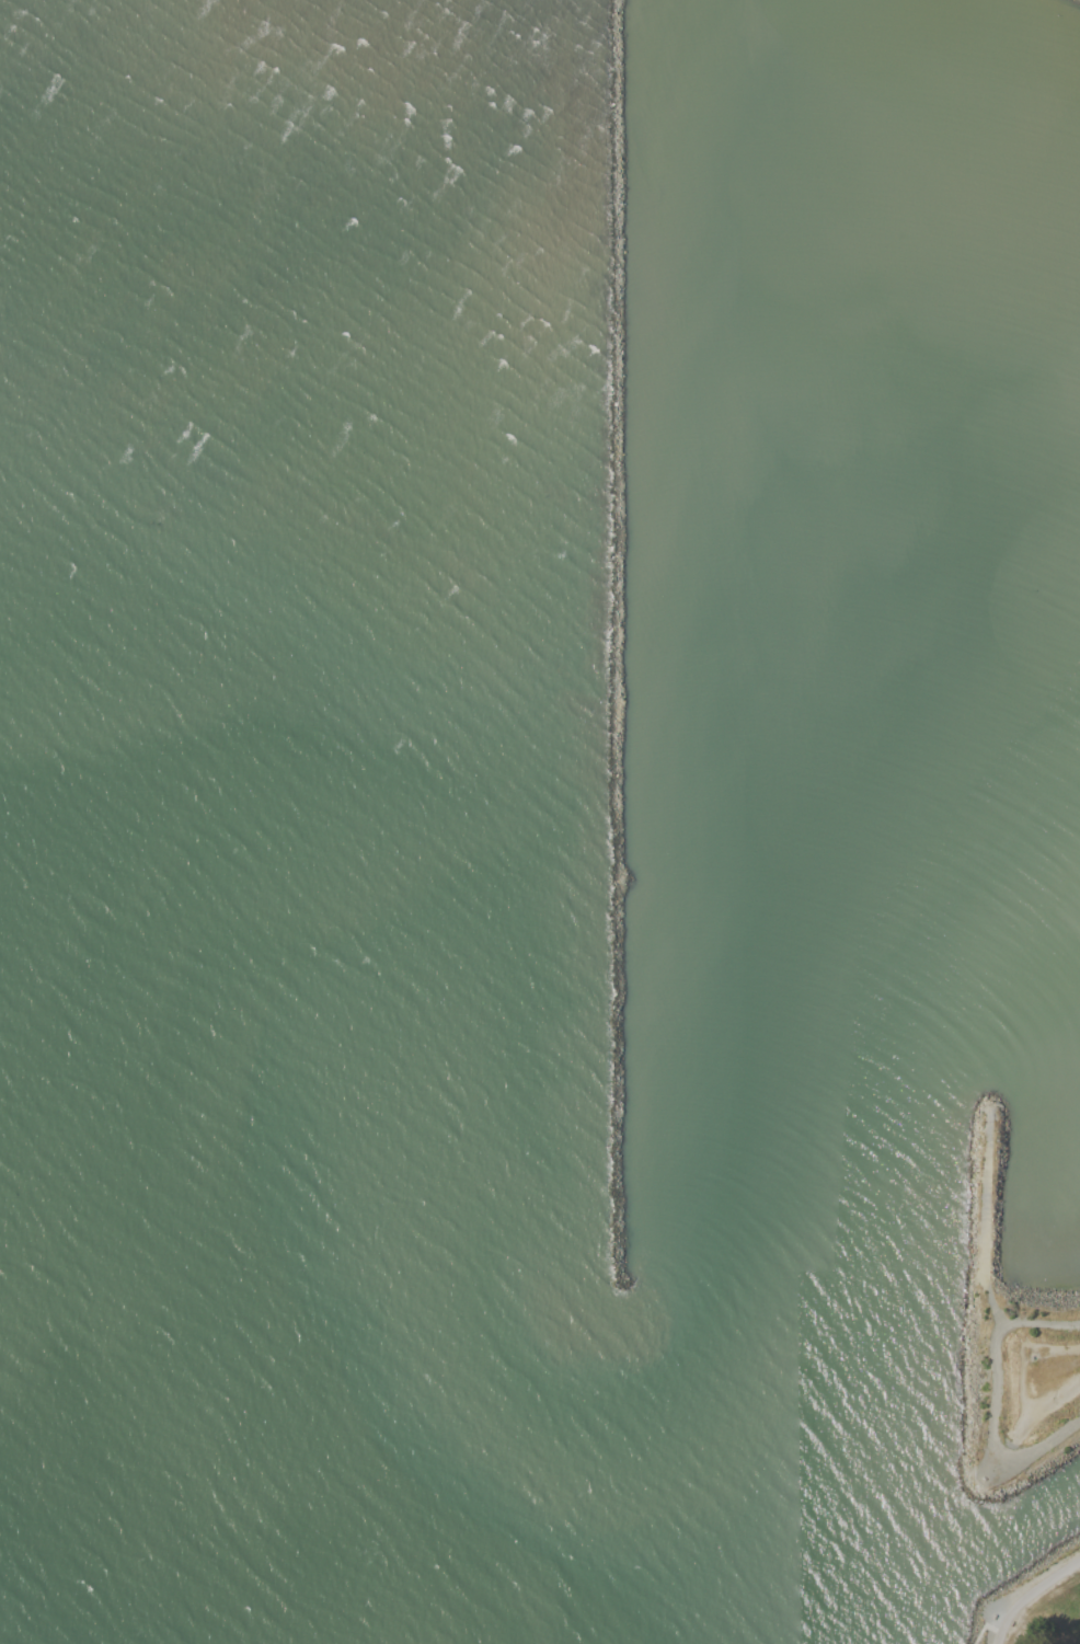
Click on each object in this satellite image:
pier: (622, 714)
park: (1013, 1348)
road: (993, 1396)
road: (1038, 1412)
road: (1037, 1601)
park: (1033, 1605)

